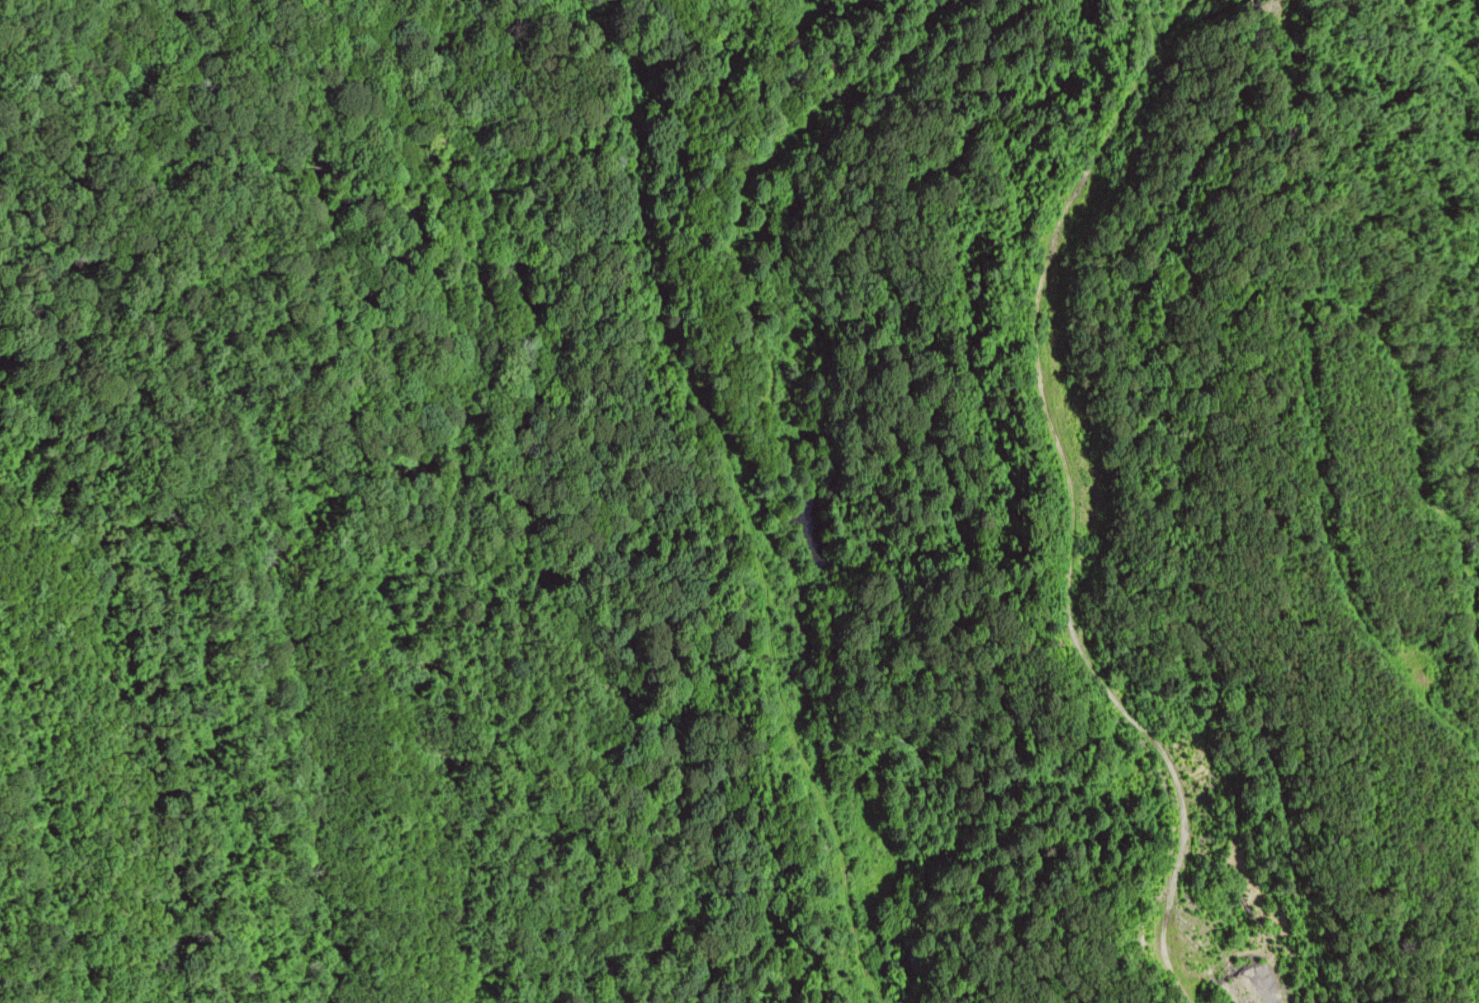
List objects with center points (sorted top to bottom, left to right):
road: (1455, 15)
road: (451, 449)
road: (1065, 510)

